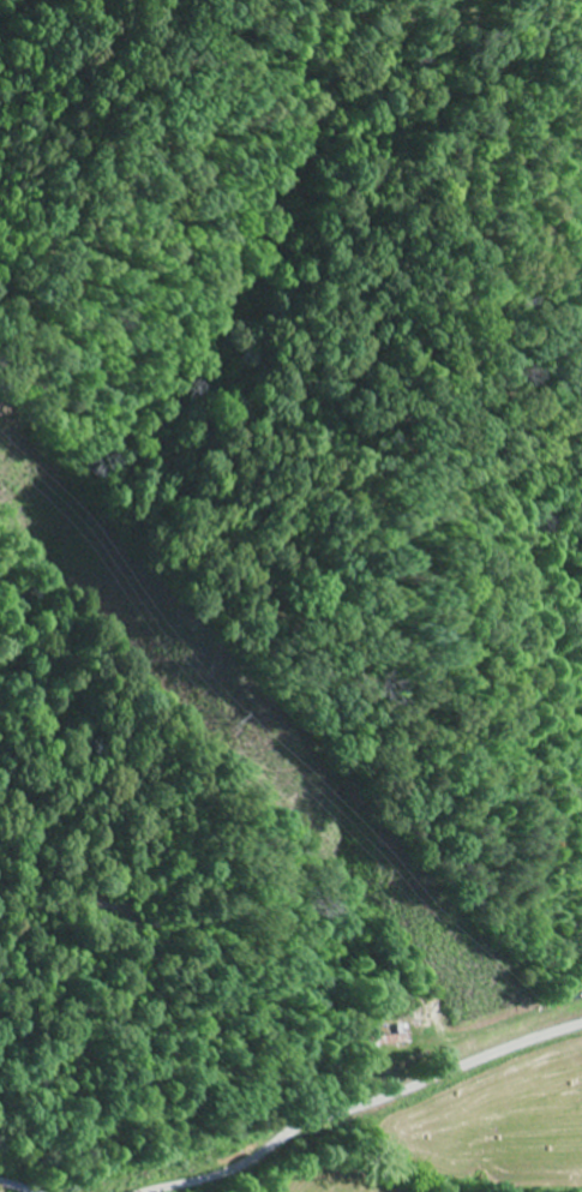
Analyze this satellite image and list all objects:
road: (365, 1106)
road: (16, 1187)

